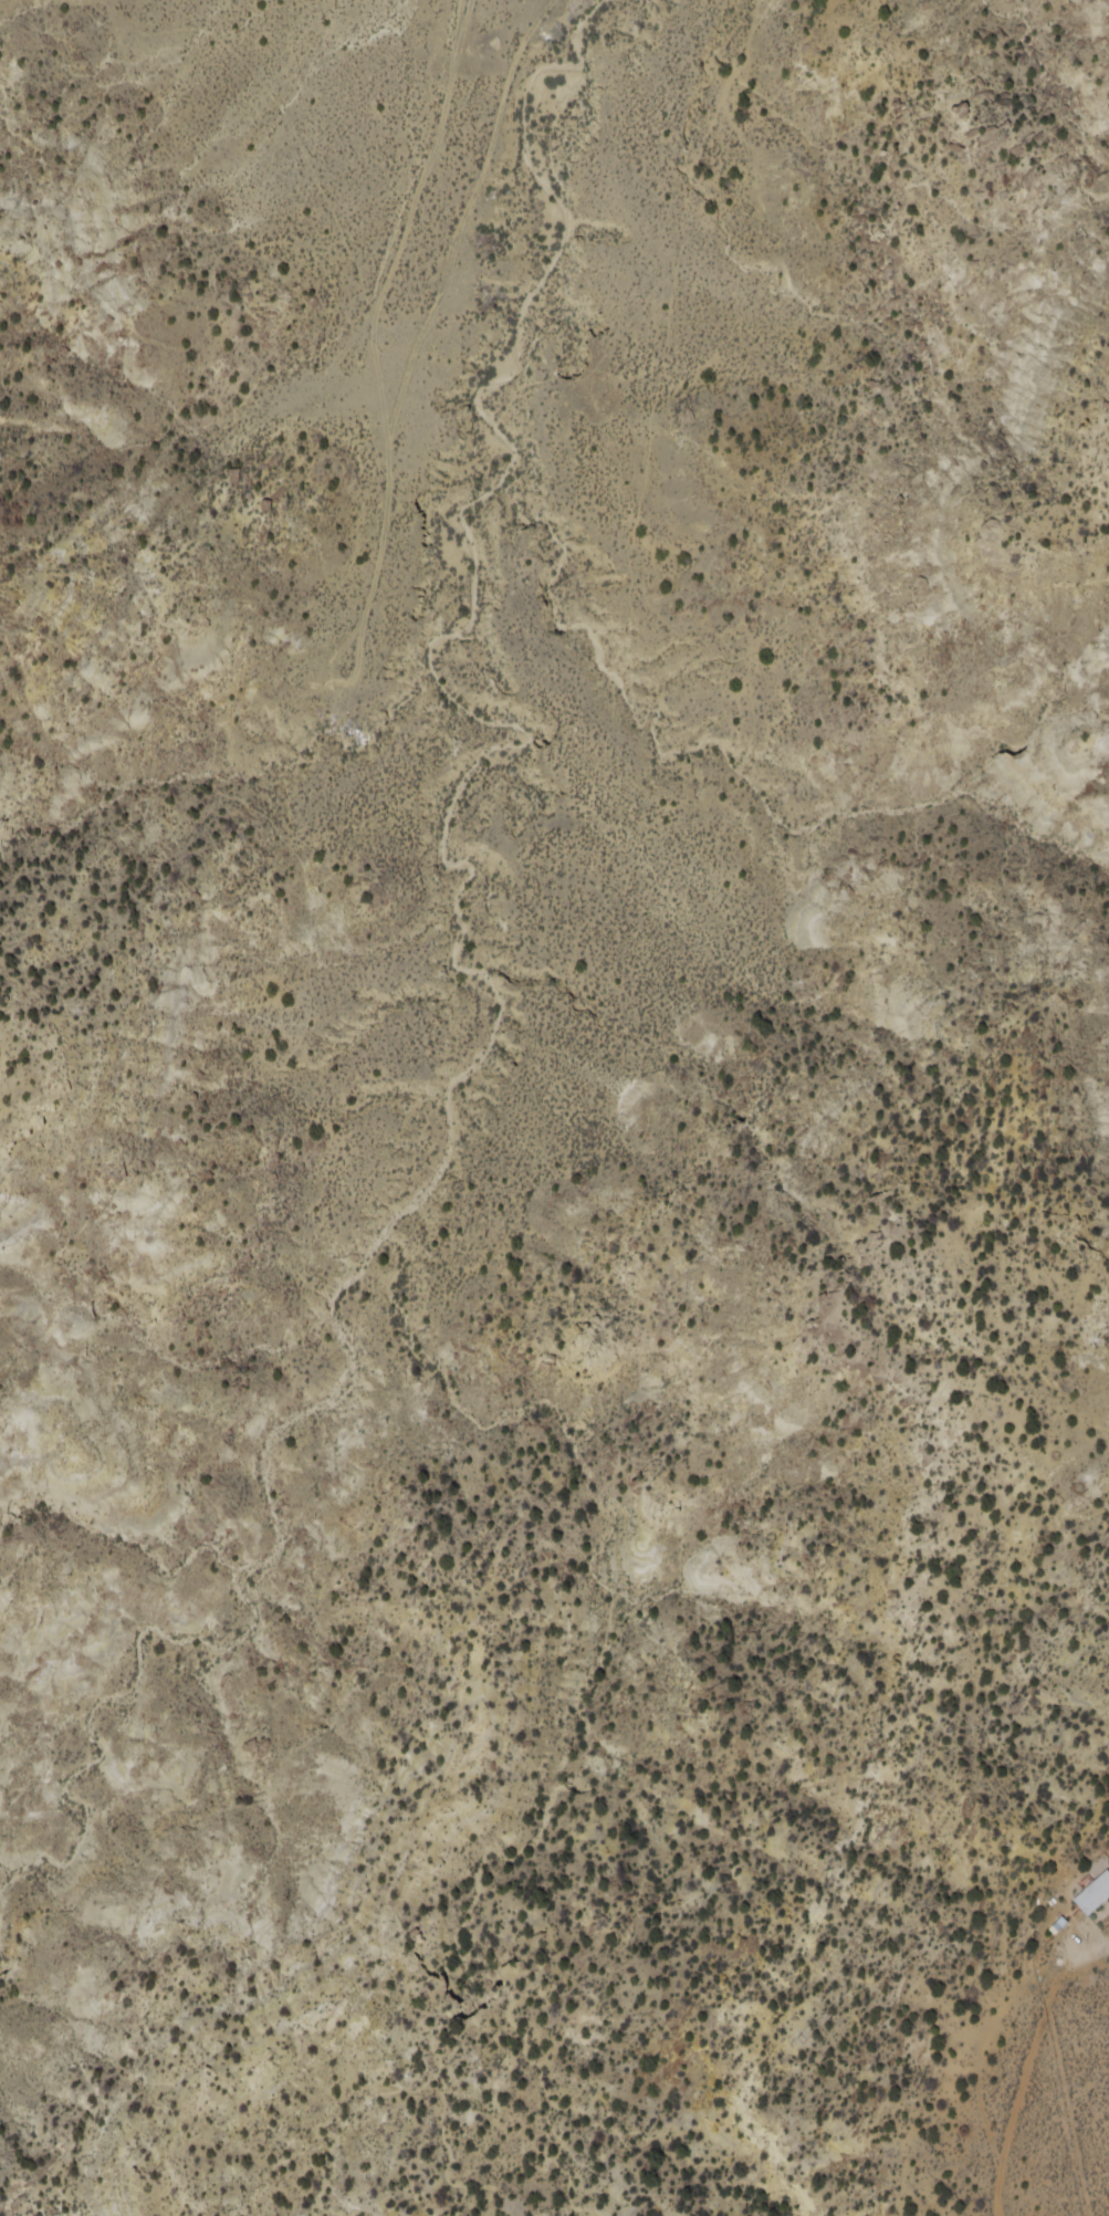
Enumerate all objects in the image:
building: (1095, 1894)
road: (1081, 2121)

